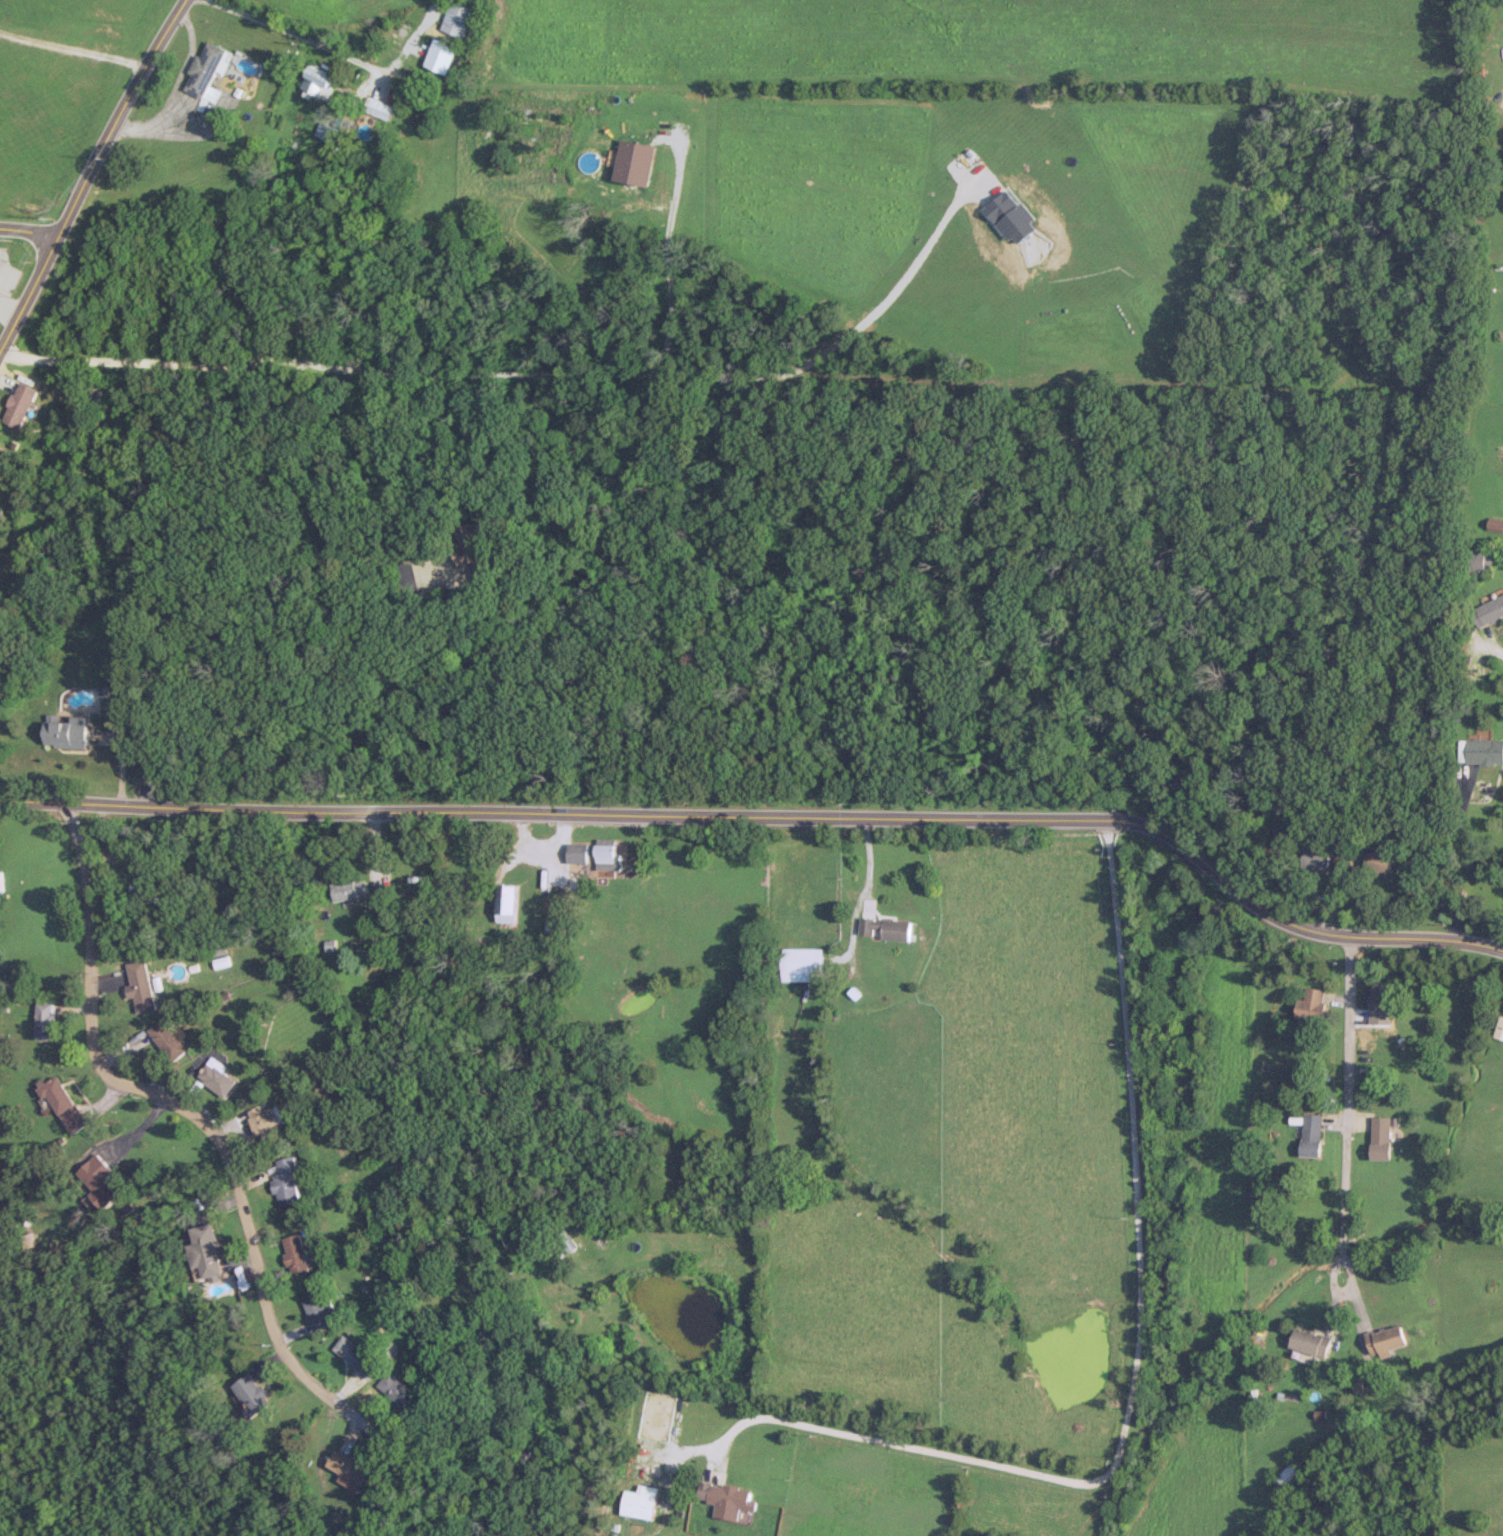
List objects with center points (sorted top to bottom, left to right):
building: (457, 17)
road: (267, 21)
building: (441, 54)
building: (205, 69)
building: (319, 82)
building: (379, 108)
building: (526, 127)
building: (329, 132)
road: (90, 163)
road: (27, 228)
road: (5, 308)
building: (21, 404)
building: (3, 454)
building: (475, 550)
building: (1477, 560)
building: (1488, 612)
road: (231, 620)
road: (1492, 647)
building: (67, 732)
building: (1480, 751)
road: (768, 815)
building: (580, 853)
building: (610, 856)
building: (1316, 857)
road: (1455, 859)
building: (1380, 860)
building: (349, 890)
building: (153, 896)
road: (856, 896)
building: (509, 903)
building: (885, 929)
building: (801, 964)
building: (142, 985)
building: (1381, 1003)
building: (1311, 1005)
building: (46, 1020)
building: (1500, 1028)
building: (169, 1040)
building: (218, 1078)
building: (66, 1105)
road: (1348, 1107)
road: (194, 1110)
building: (264, 1118)
building: (1311, 1134)
building: (1381, 1137)
building: (106, 1182)
building: (288, 1183)
building: (30, 1240)
building: (567, 1242)
building: (205, 1250)
building: (297, 1254)
building: (322, 1310)
road: (1141, 1325)
building: (1385, 1340)
building: (1311, 1343)
building: (358, 1357)
building: (401, 1392)
building: (252, 1394)
building: (205, 1418)
building: (350, 1471)
building: (1285, 1474)
building: (728, 1501)
building: (639, 1502)

